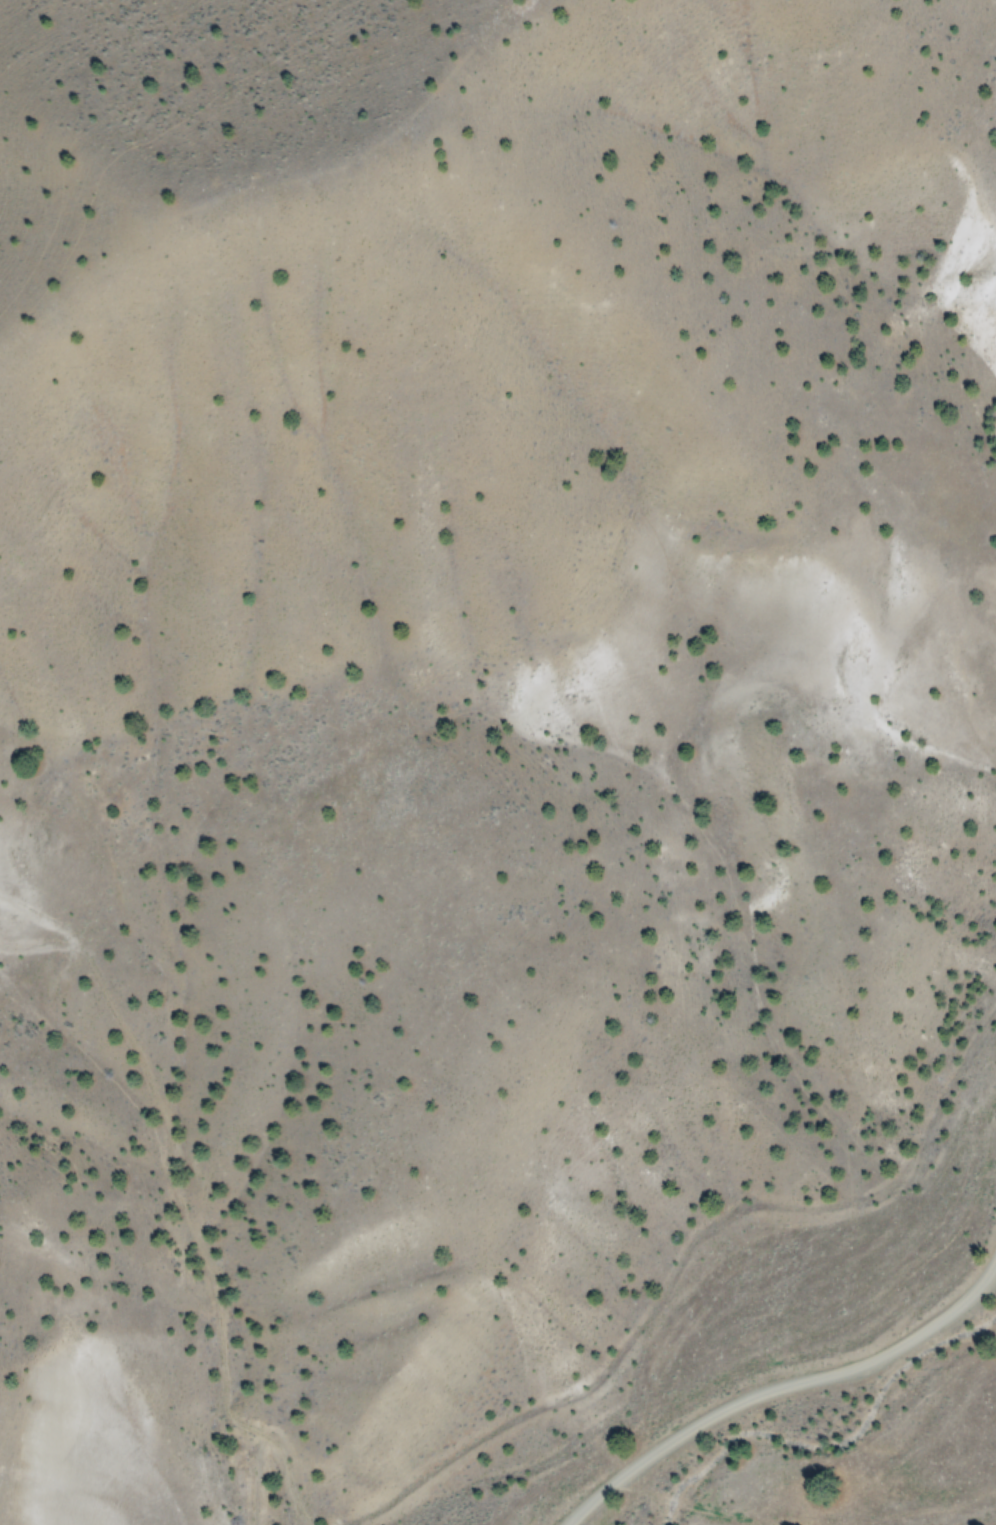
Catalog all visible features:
road: (780, 1388)

